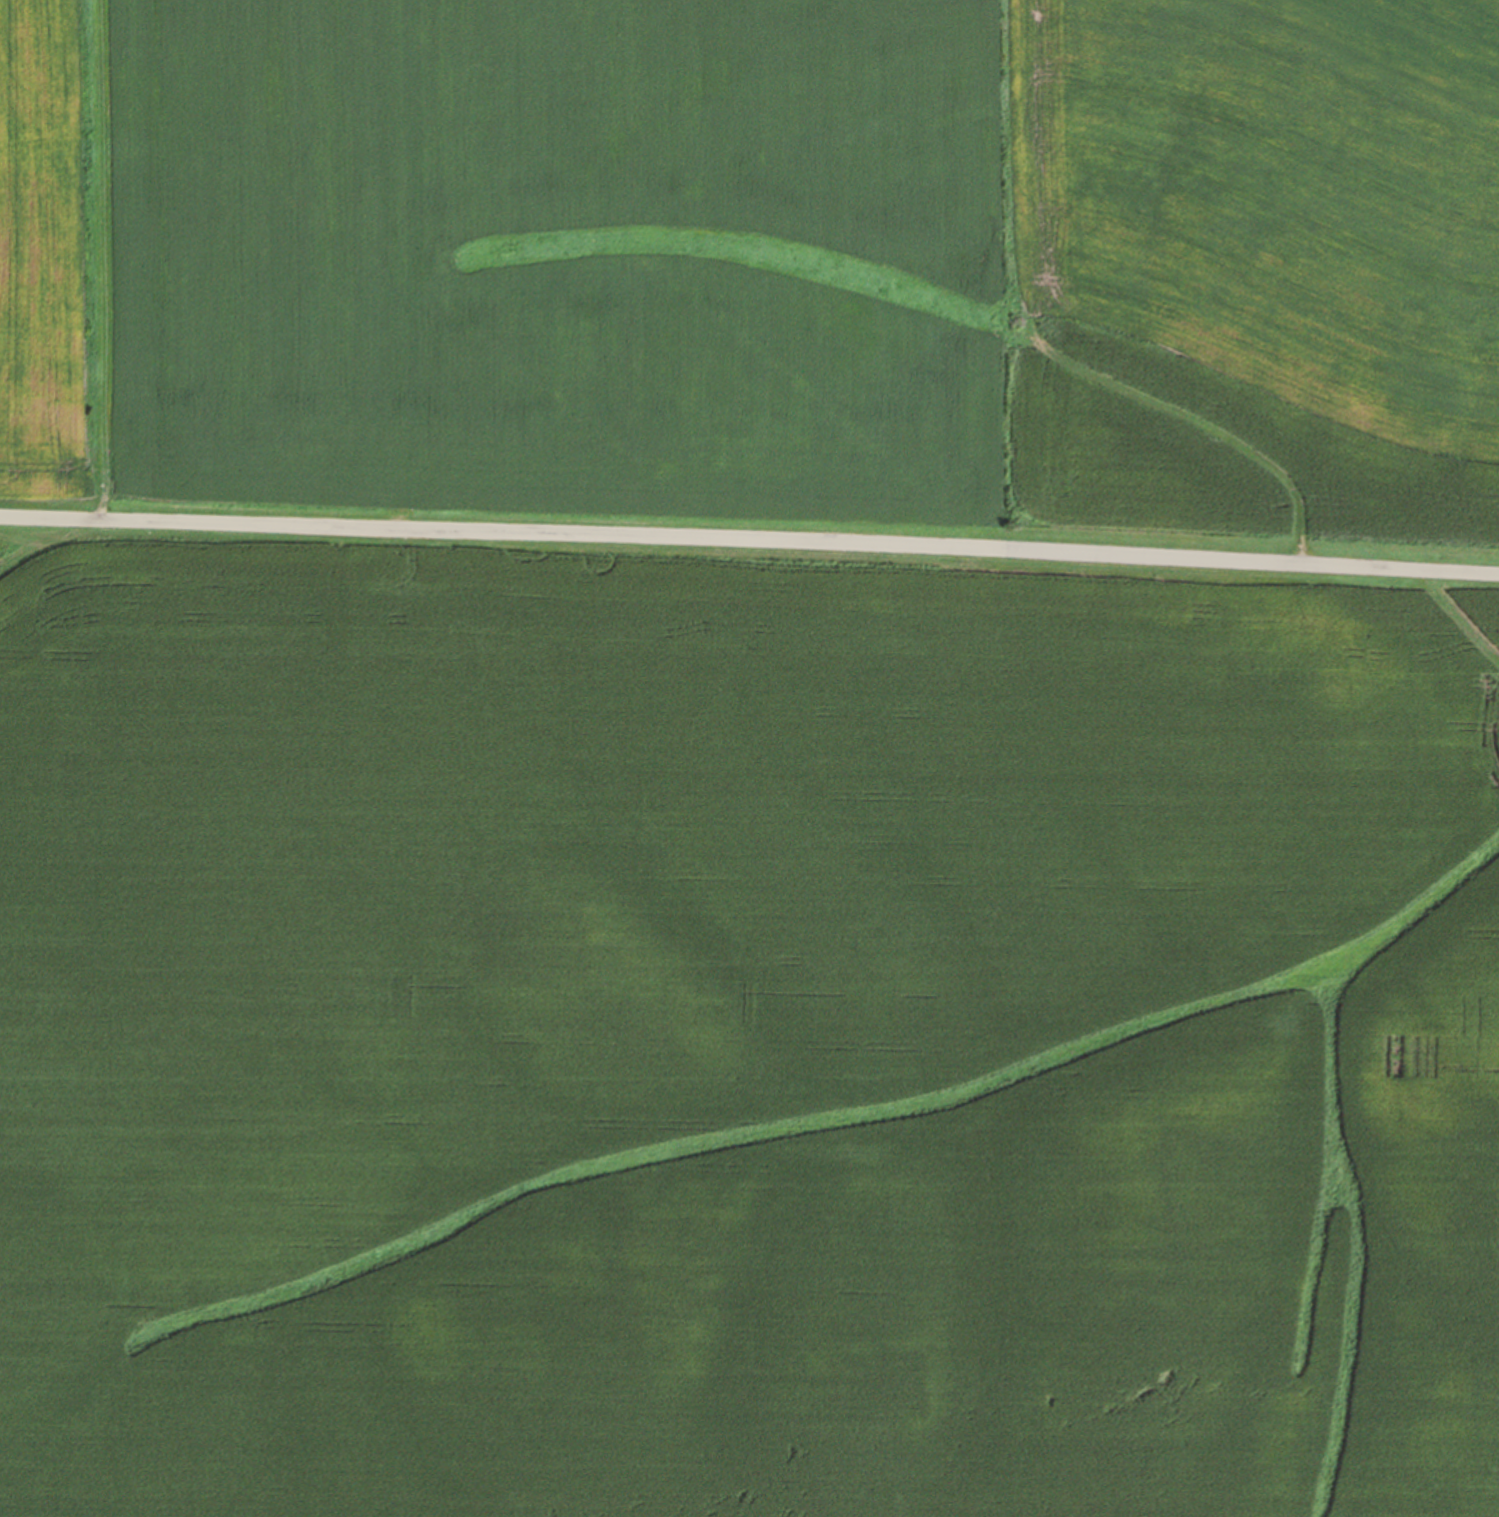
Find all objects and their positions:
road: (749, 542)

